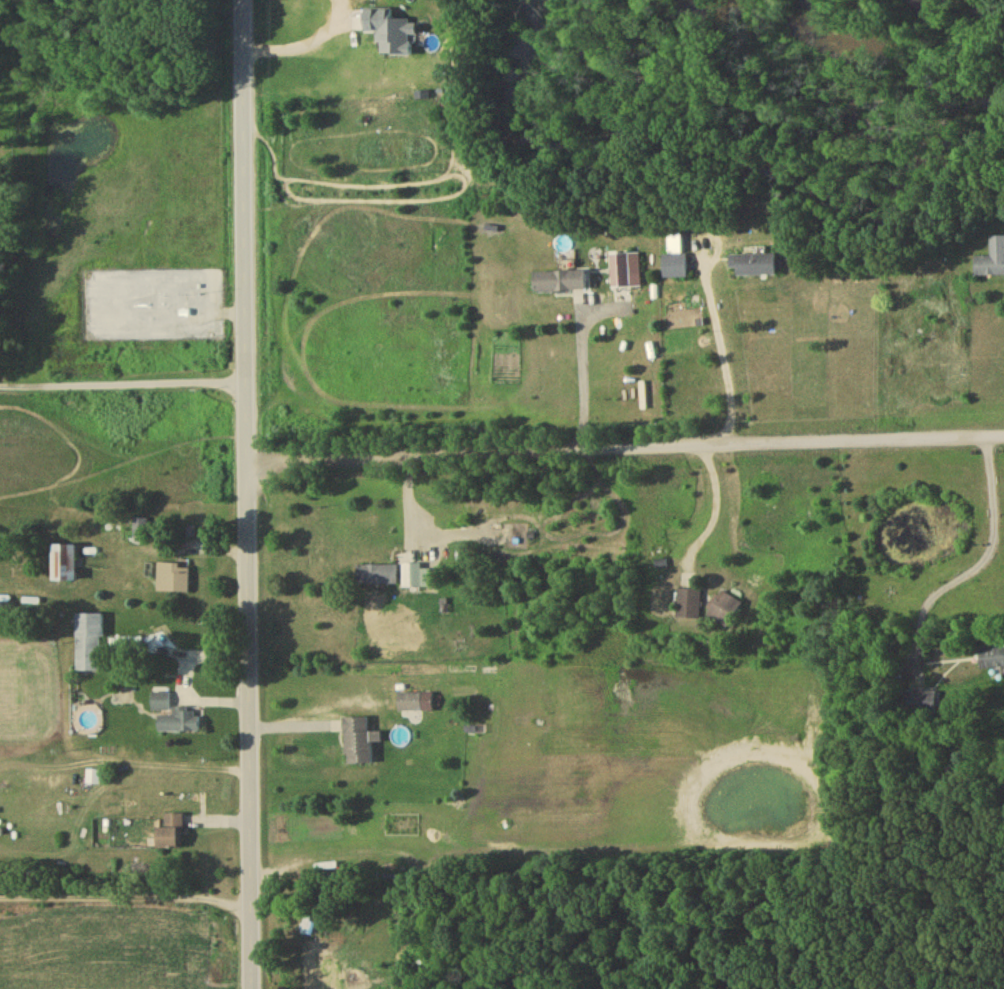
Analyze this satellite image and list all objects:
road: (237, 23)
road: (296, 38)
building: (992, 262)
building: (675, 268)
building: (757, 268)
building: (621, 273)
building: (560, 284)
road: (723, 358)
road: (583, 373)
road: (124, 386)
road: (627, 450)
road: (717, 514)
road: (251, 517)
building: (141, 531)
road: (973, 558)
building: (64, 566)
building: (412, 576)
building: (377, 577)
building: (174, 580)
building: (689, 607)
building: (723, 611)
building: (88, 645)
building: (991, 660)
road: (184, 677)
building: (160, 705)
building: (410, 705)
building: (180, 724)
building: (359, 744)
building: (7, 802)
building: (170, 833)
road: (127, 897)
building: (317, 969)

